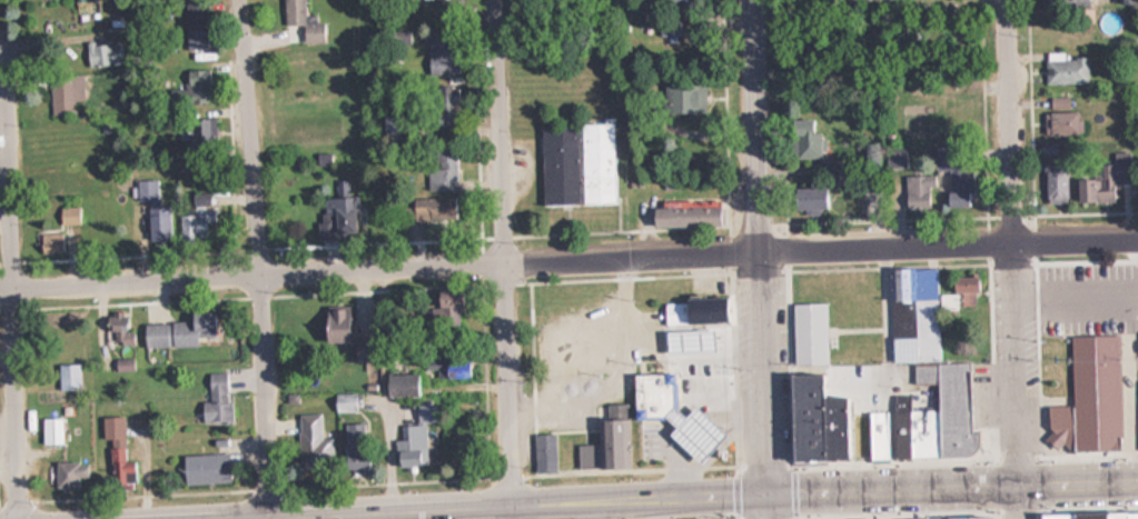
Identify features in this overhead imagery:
building: (673, 1)
building: (301, 21)
building: (194, 23)
building: (101, 54)
building: (442, 58)
building: (1066, 69)
building: (198, 83)
building: (63, 93)
building: (683, 98)
building: (445, 106)
road: (753, 119)
building: (1059, 122)
building: (198, 130)
building: (804, 139)
building: (576, 164)
building: (443, 170)
building: (1052, 173)
building: (1105, 180)
building: (958, 190)
building: (919, 196)
building: (804, 201)
building: (434, 208)
building: (152, 211)
building: (683, 213)
building: (67, 216)
building: (339, 218)
building: (197, 219)
building: (49, 241)
road: (568, 250)
road: (499, 259)
road: (1009, 259)
road: (264, 269)
road: (365, 278)
road: (8, 286)
building: (444, 299)
building: (695, 310)
building: (445, 319)
building: (336, 325)
building: (117, 328)
building: (178, 330)
building: (805, 338)
building: (563, 355)
building: (953, 362)
building: (121, 363)
building: (447, 366)
building: (1137, 370)
building: (67, 376)
road: (761, 378)
building: (400, 383)
building: (650, 395)
building: (1088, 397)
building: (215, 398)
building: (813, 420)
building: (48, 429)
building: (689, 431)
building: (409, 432)
building: (308, 436)
building: (355, 451)
building: (116, 452)
building: (543, 452)
building: (201, 468)
building: (67, 473)
road: (667, 495)
building: (1089, 516)
building: (962, 518)

